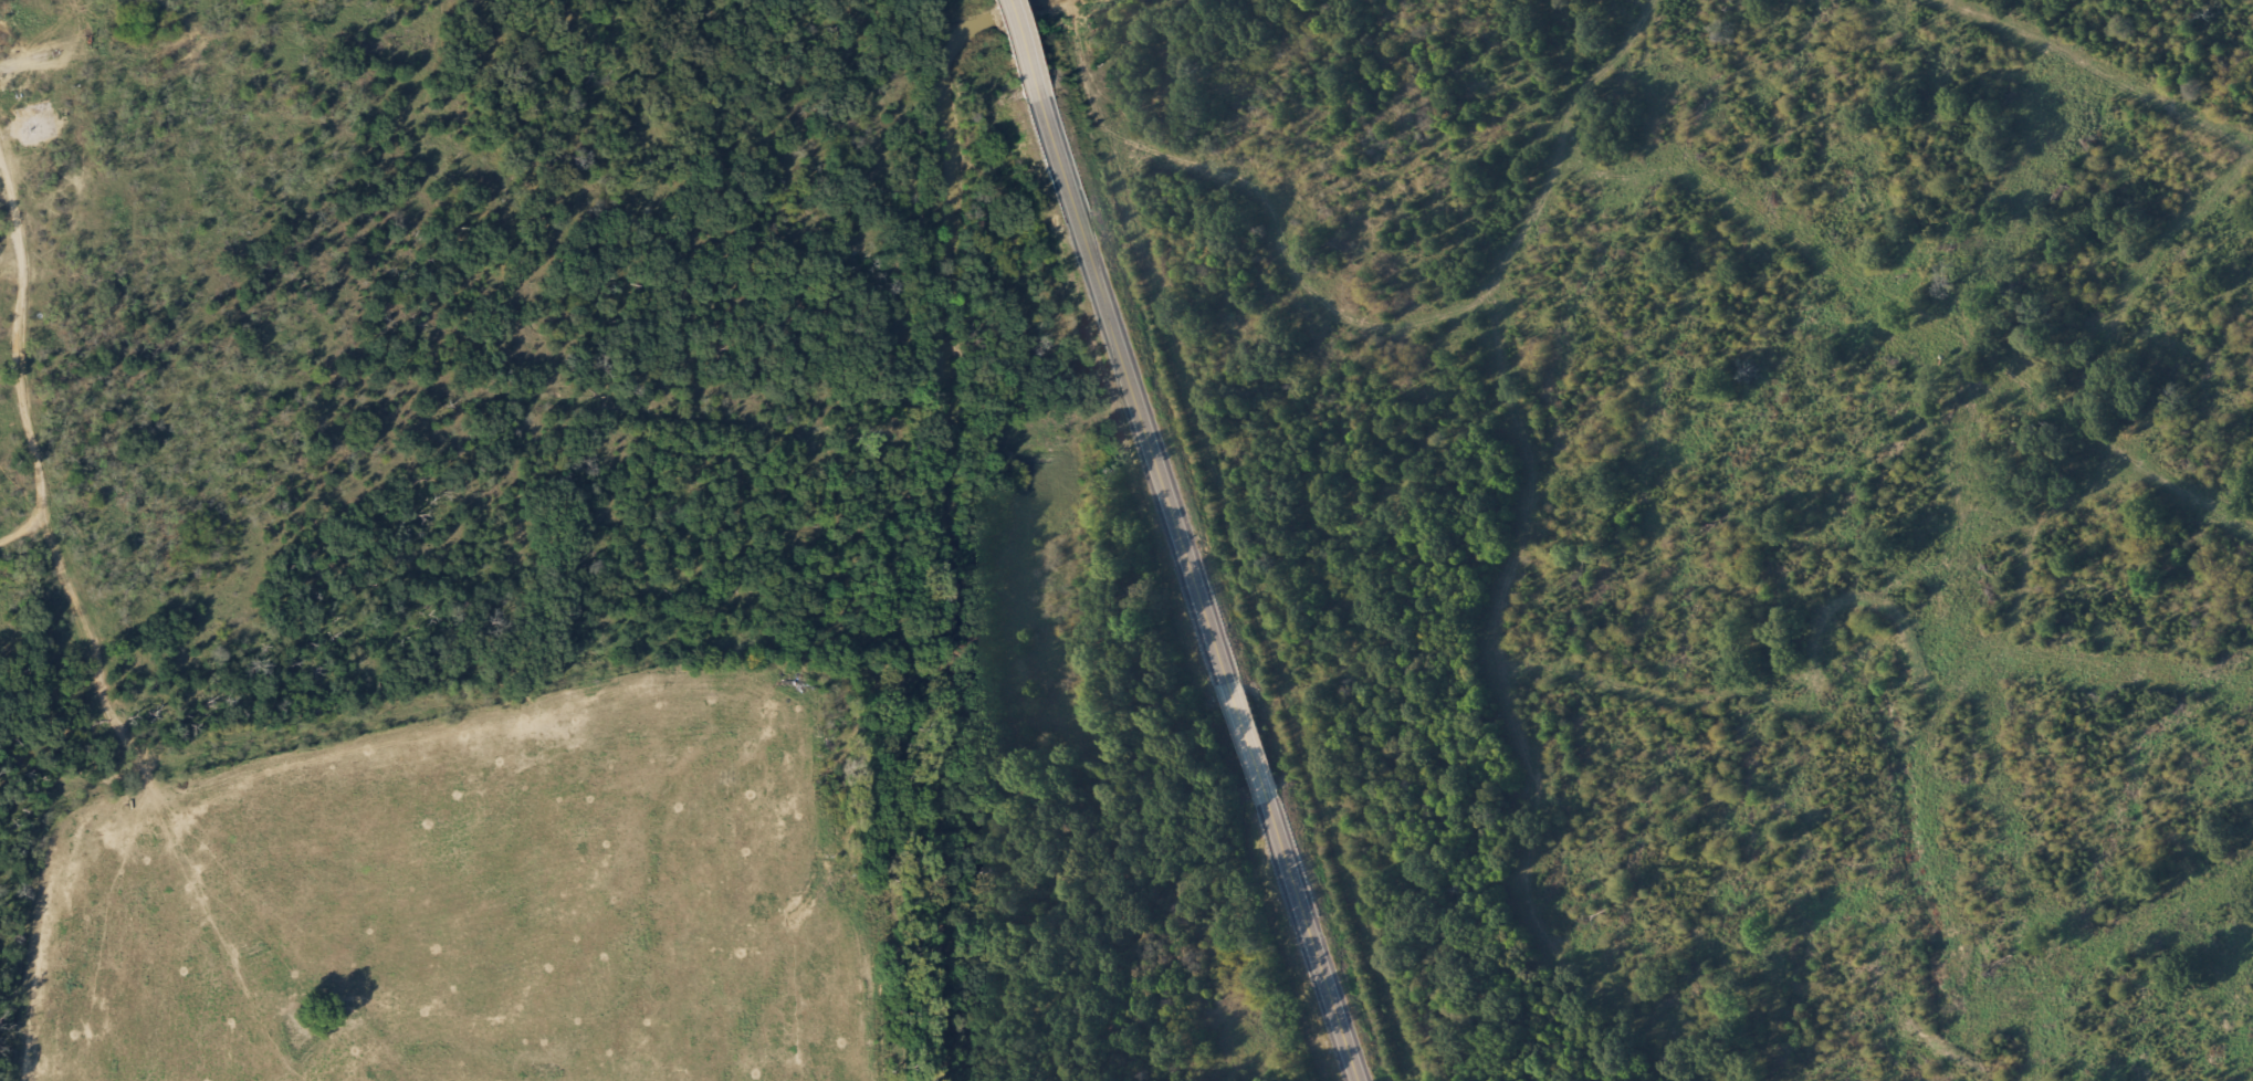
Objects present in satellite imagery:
road: (1177, 540)

